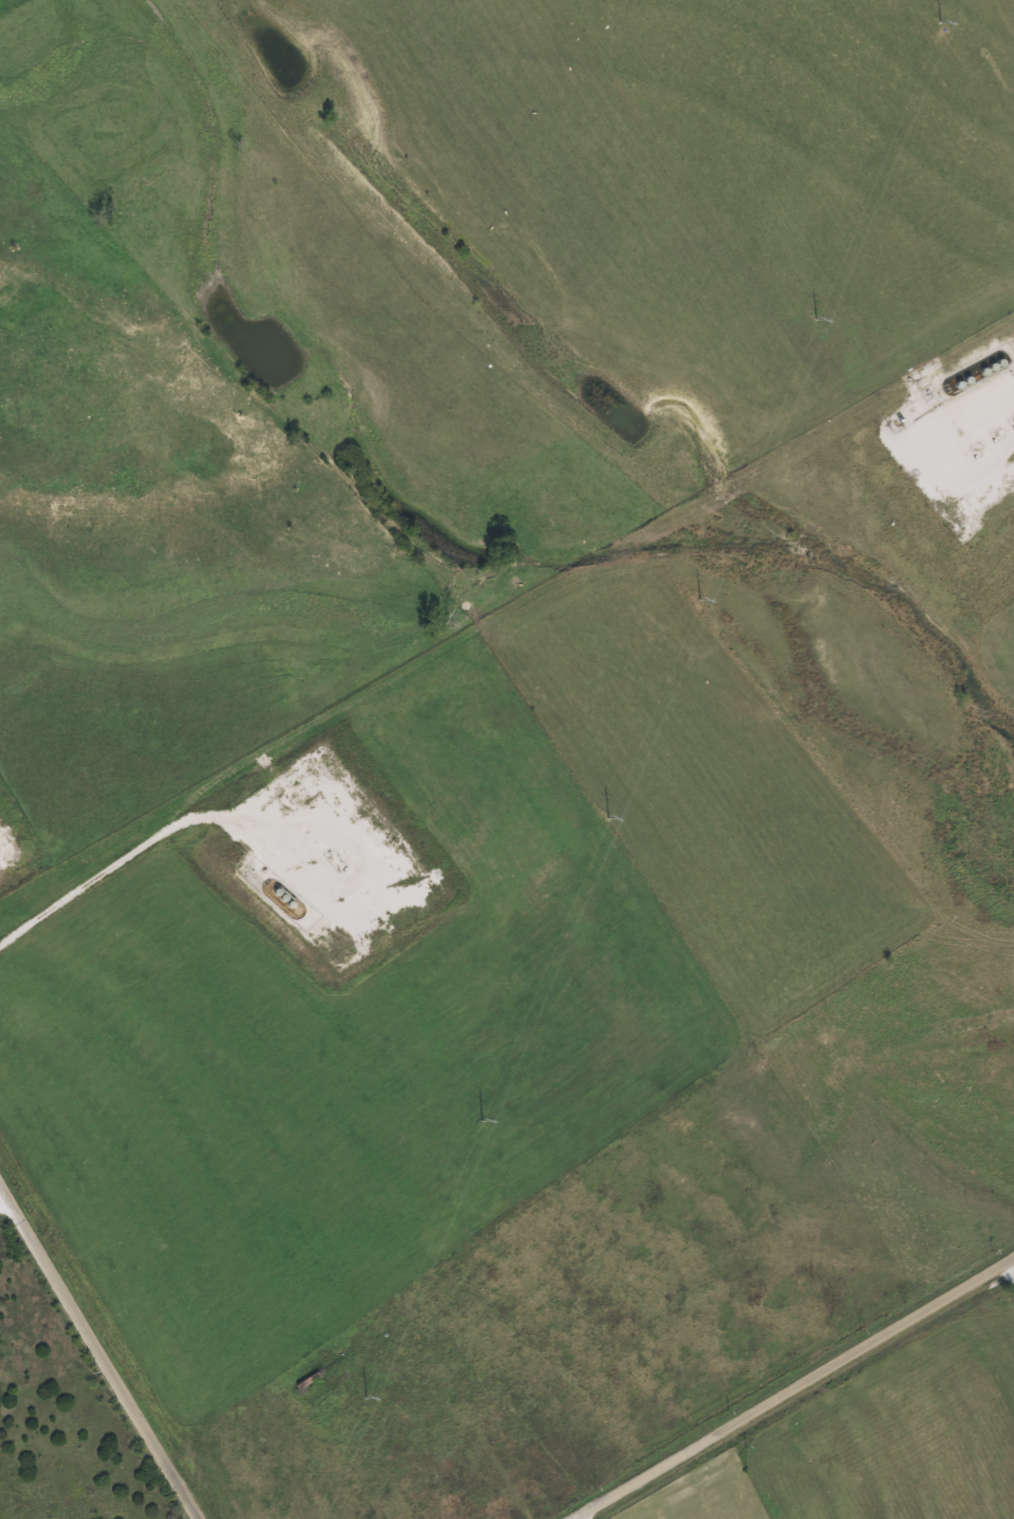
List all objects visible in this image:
road: (5, 1201)
road: (1010, 1274)
road: (100, 1349)
road: (797, 1391)

